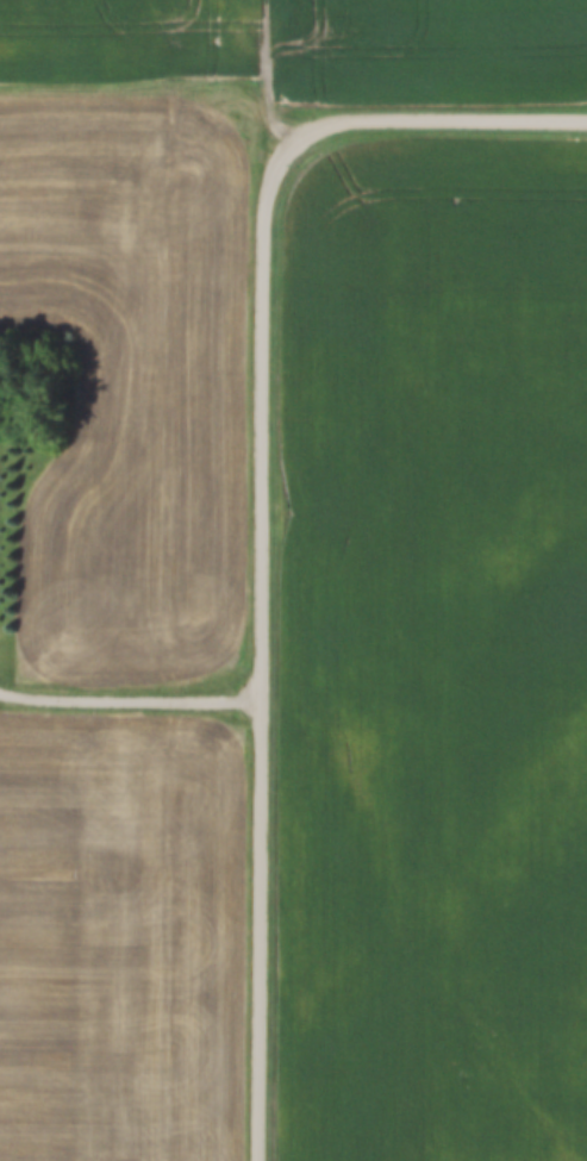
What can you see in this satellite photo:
road: (269, 68)
road: (427, 131)
road: (267, 648)
road: (133, 709)

